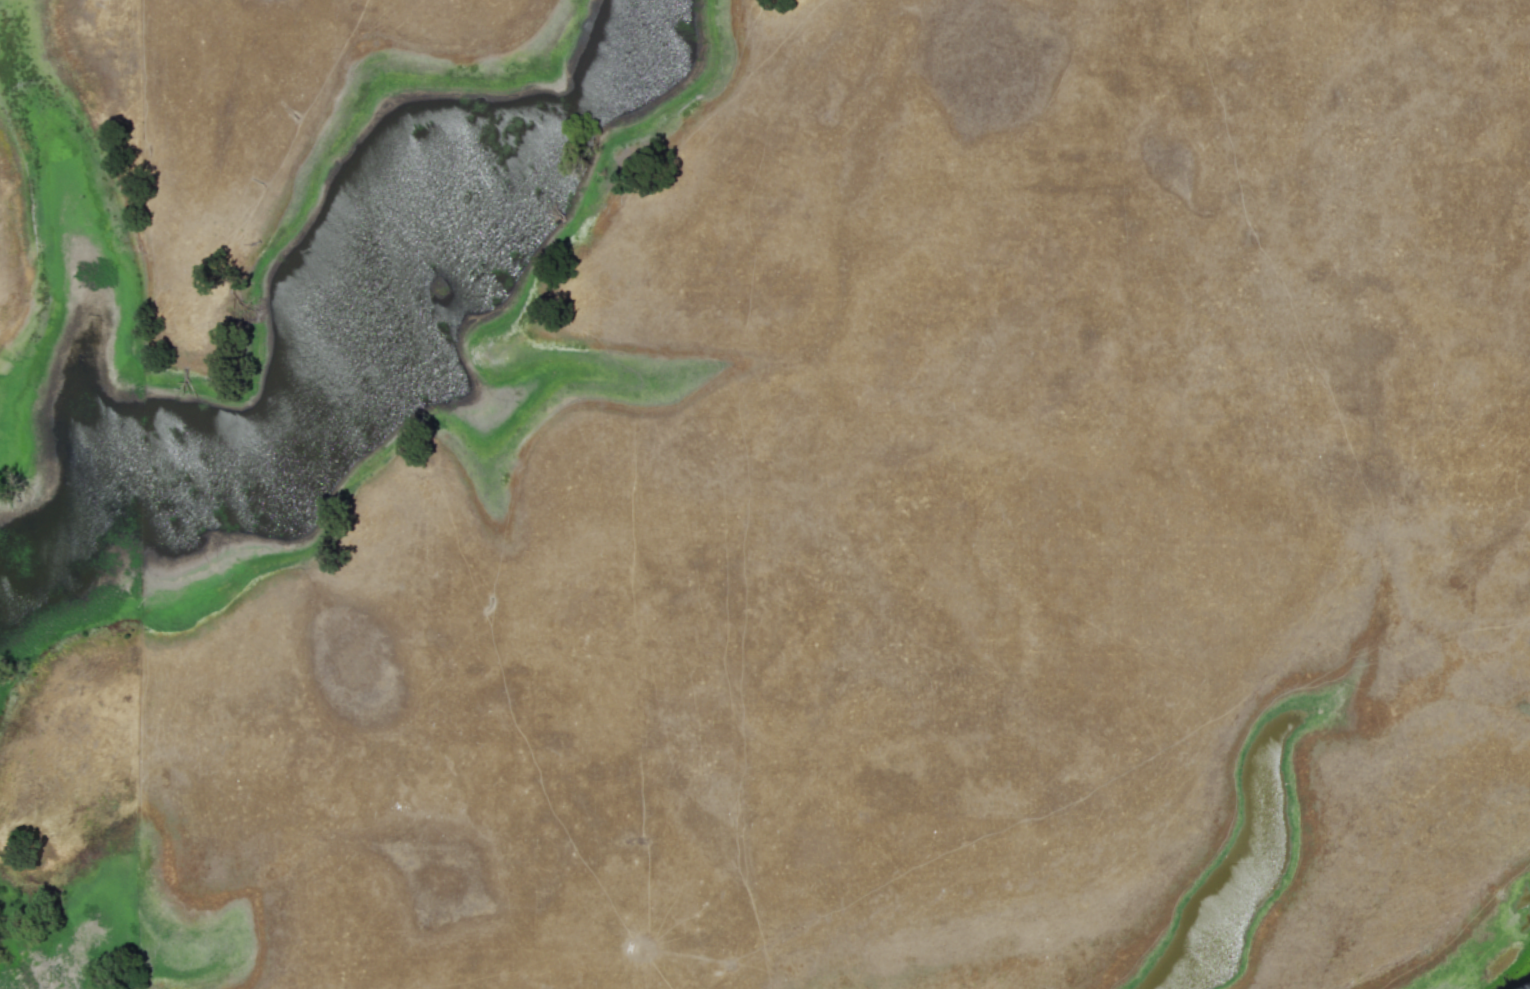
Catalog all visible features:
crop: (66, 189)

